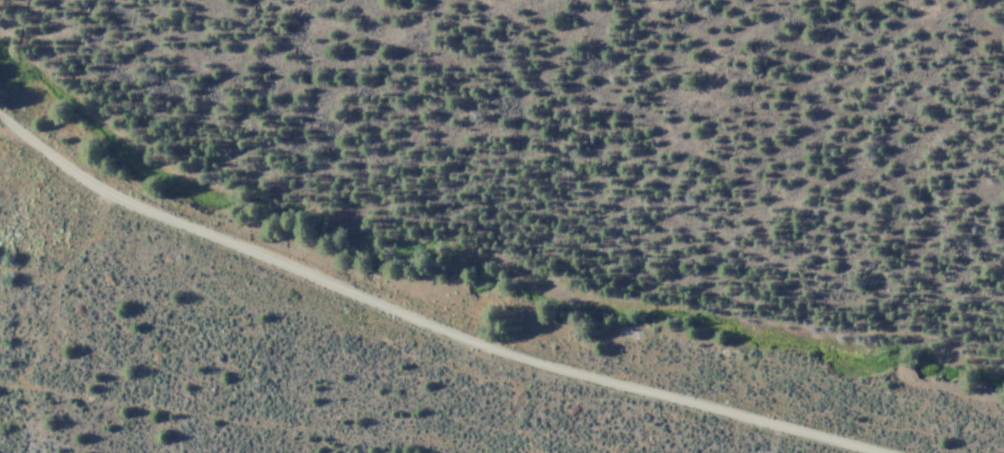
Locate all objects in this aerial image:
road: (430, 313)

